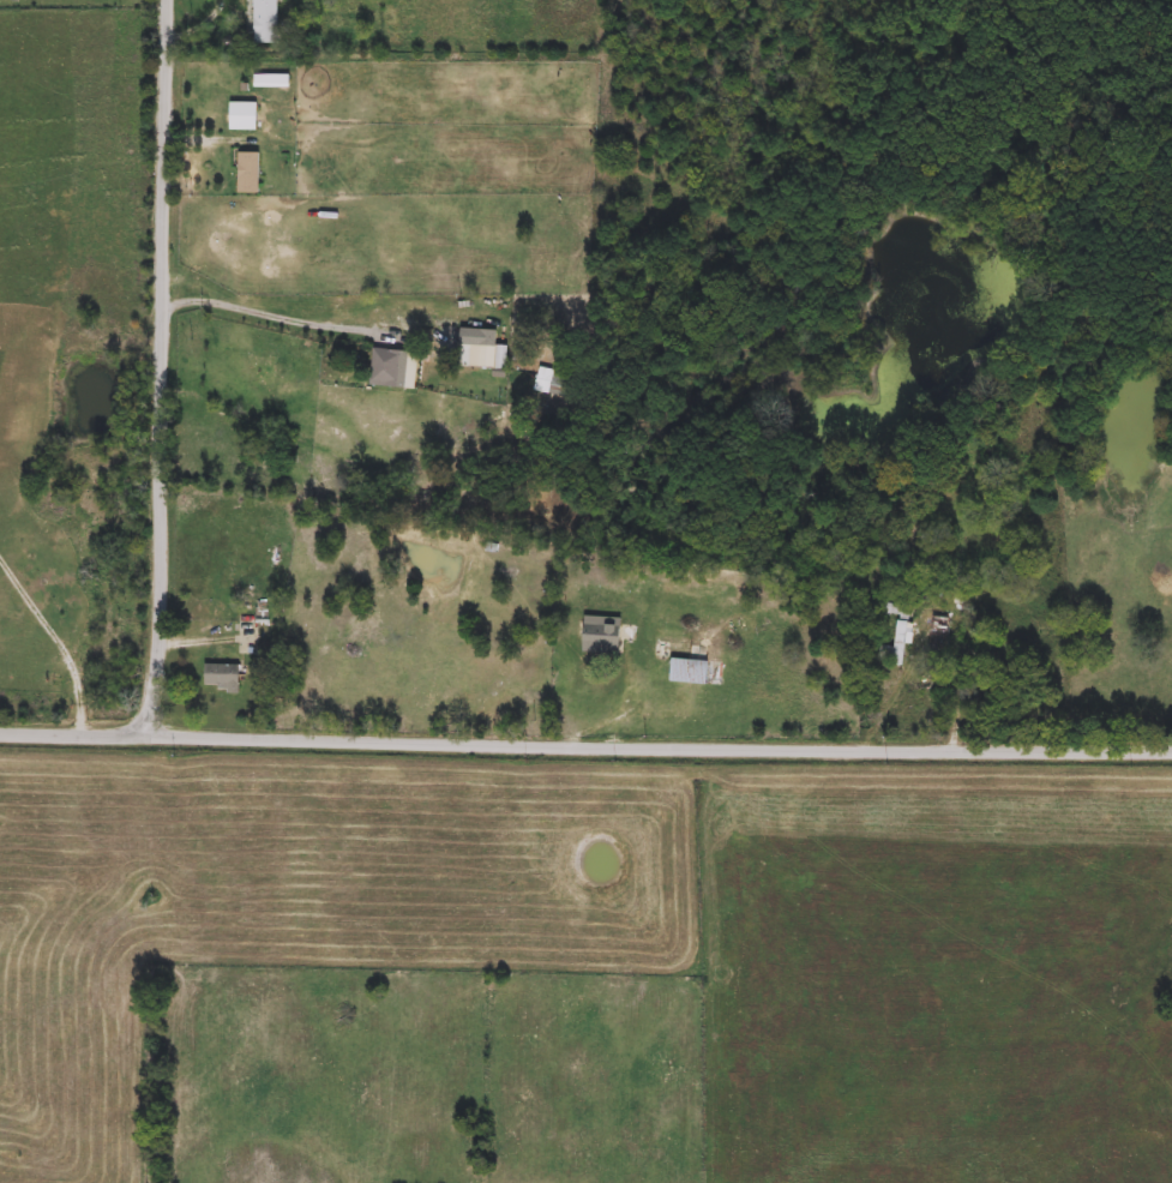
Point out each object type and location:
building: (266, 22)
road: (202, 25)
building: (271, 82)
building: (248, 173)
road: (260, 310)
road: (164, 364)
building: (397, 368)
building: (897, 608)
road: (58, 632)
building: (939, 632)
building: (606, 641)
building: (897, 645)
building: (690, 662)
building: (222, 675)
road: (900, 691)
road: (585, 738)

